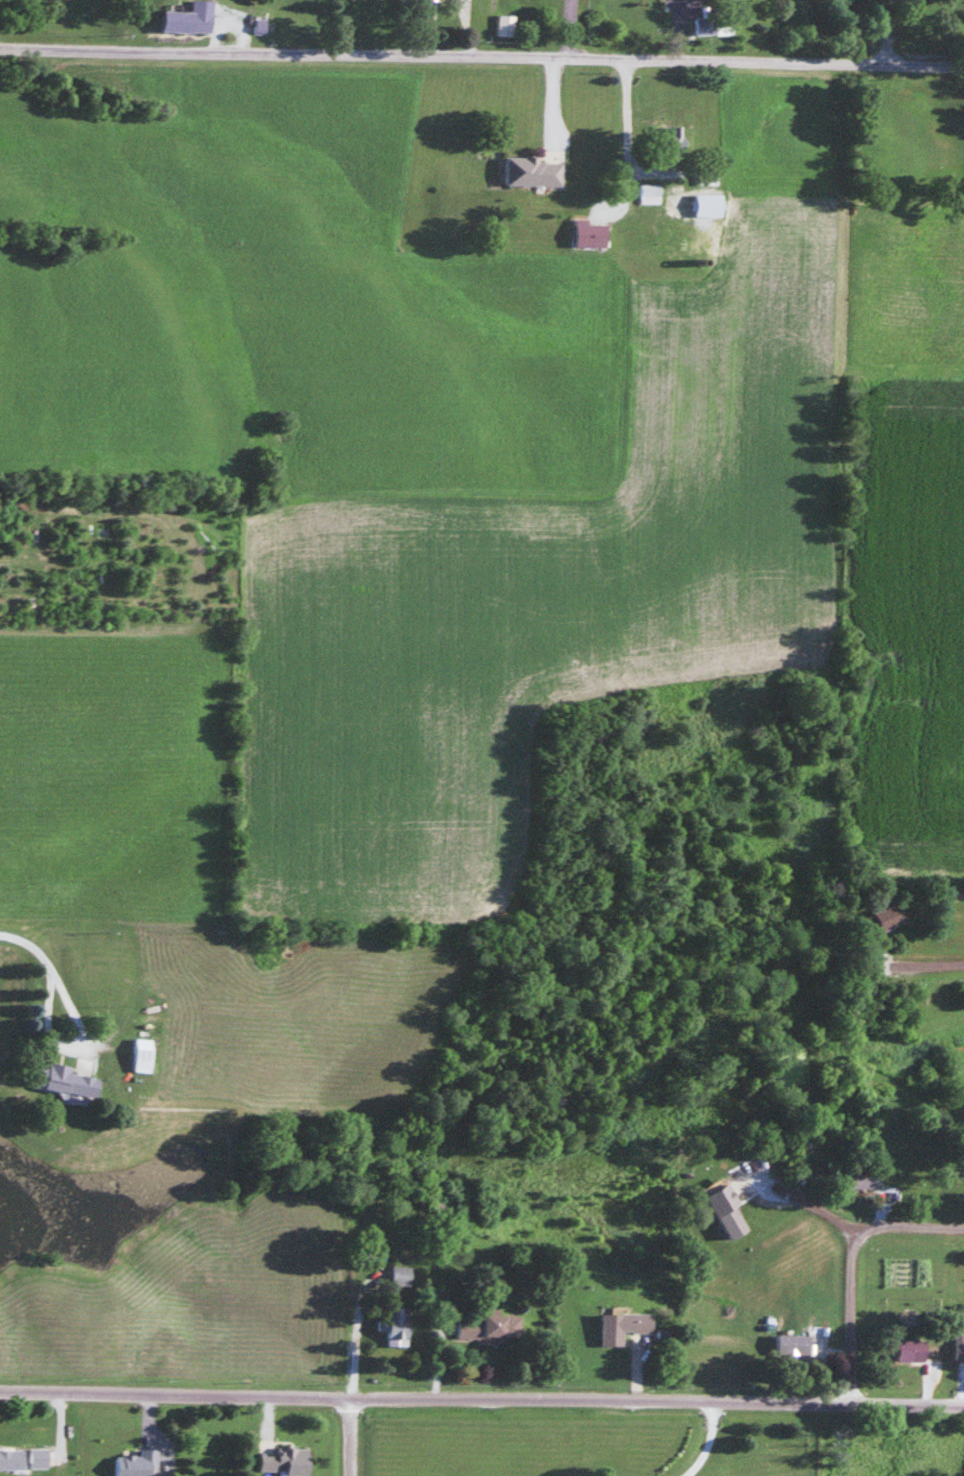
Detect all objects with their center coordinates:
building: (417, 6)
building: (185, 22)
building: (505, 26)
road: (885, 32)
road: (482, 58)
building: (534, 171)
building: (649, 193)
building: (592, 233)
building: (682, 236)
building: (889, 915)
road: (924, 961)
road: (50, 970)
building: (143, 1055)
building: (65, 1080)
building: (863, 1176)
road: (808, 1197)
building: (727, 1211)
road: (907, 1218)
building: (401, 1275)
road: (846, 1310)
building: (398, 1326)
building: (621, 1326)
building: (489, 1327)
building: (792, 1344)
building: (917, 1350)
road: (481, 1395)
road: (348, 1435)
building: (37, 1458)
building: (11, 1460)
building: (283, 1460)
building: (134, 1464)

